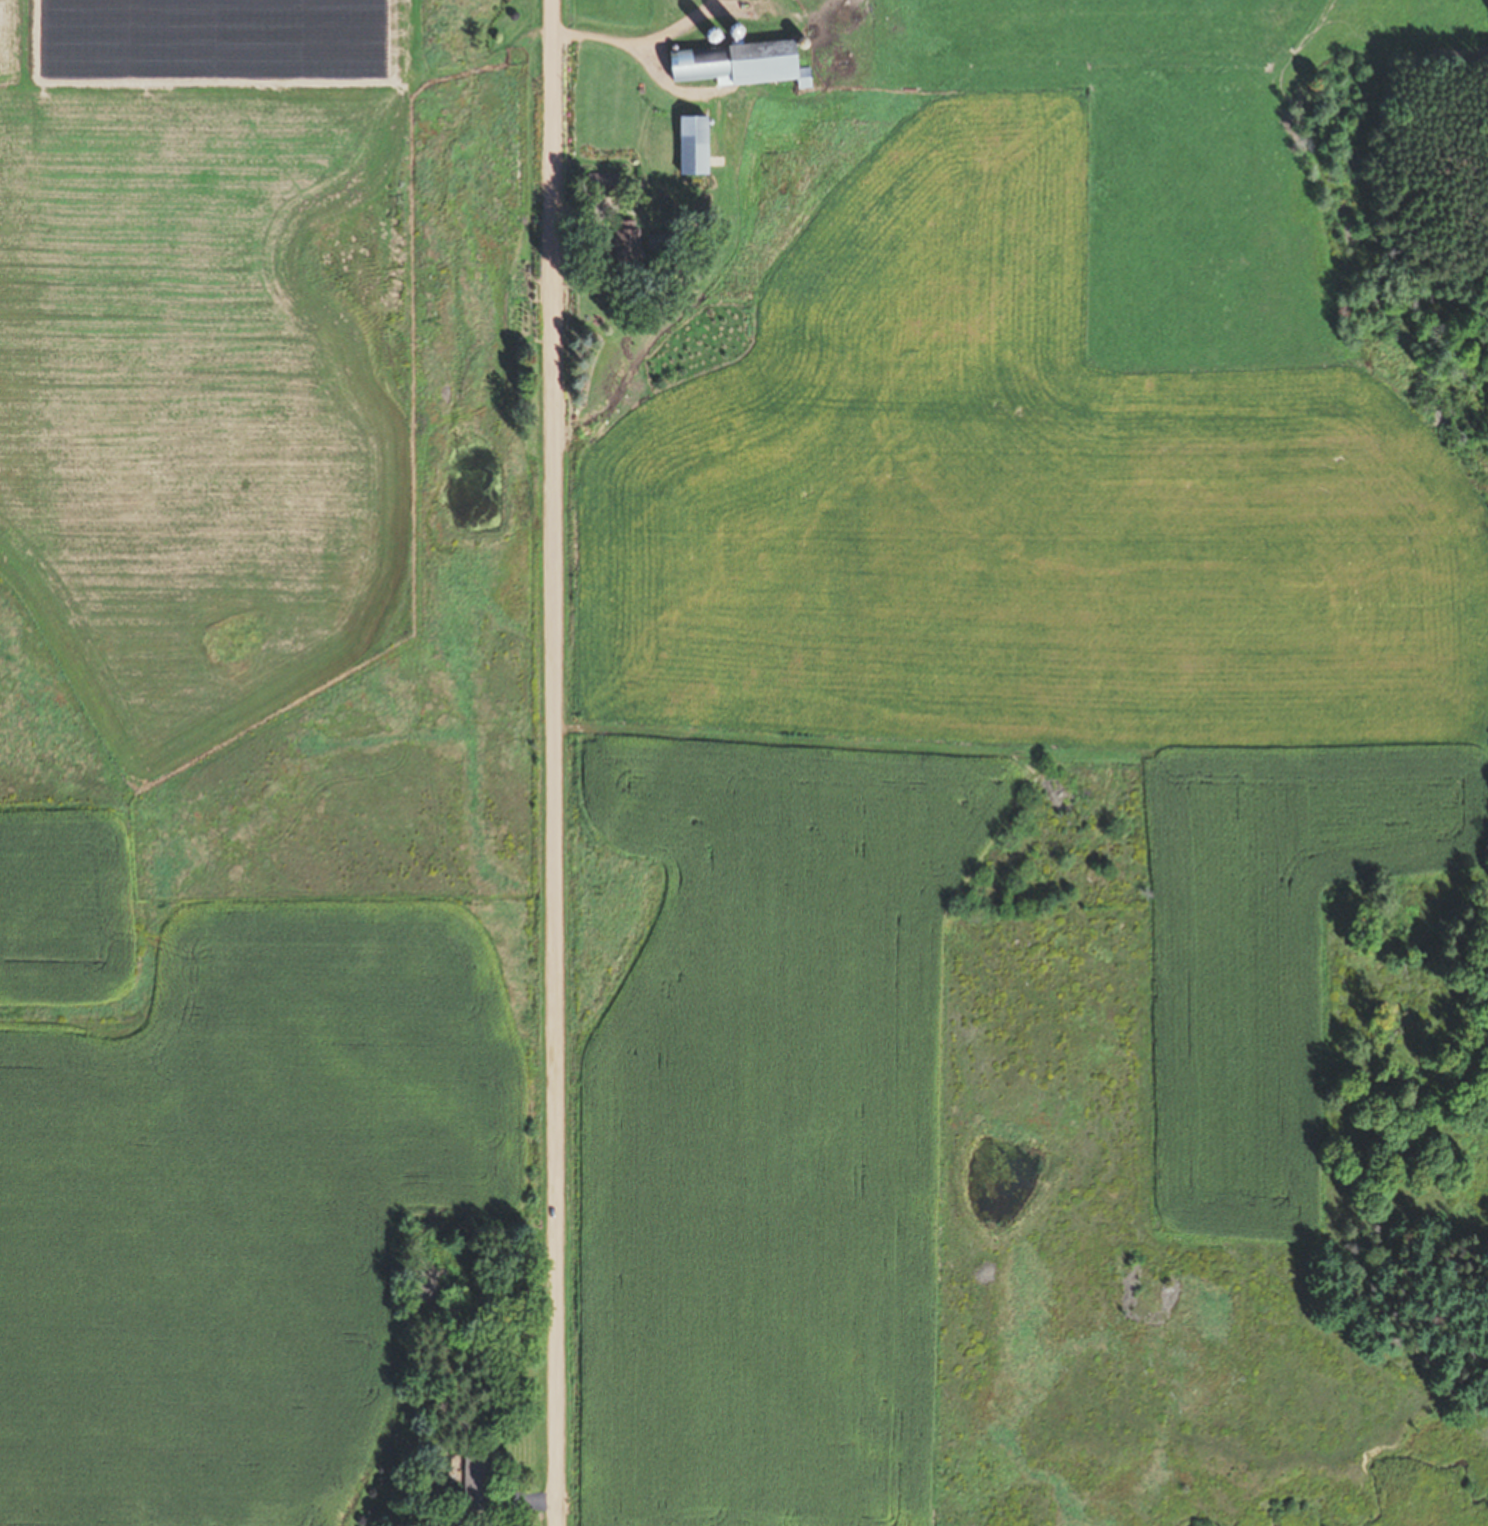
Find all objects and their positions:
building: (729, 63)
building: (686, 145)
building: (600, 184)
building: (622, 242)
road: (553, 762)
building: (470, 1483)

